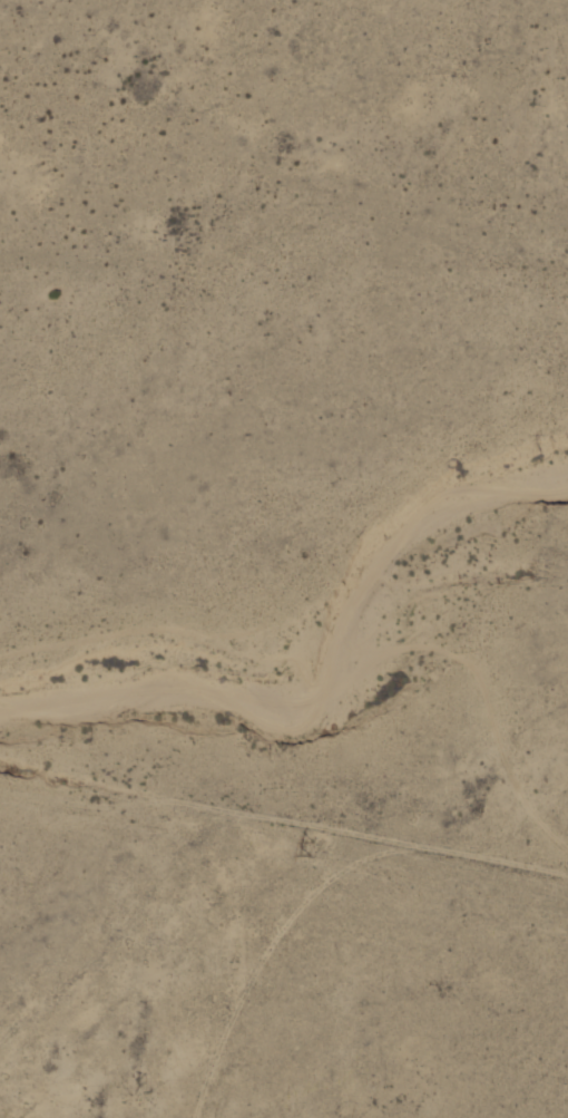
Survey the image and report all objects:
power tower: (310, 847)

